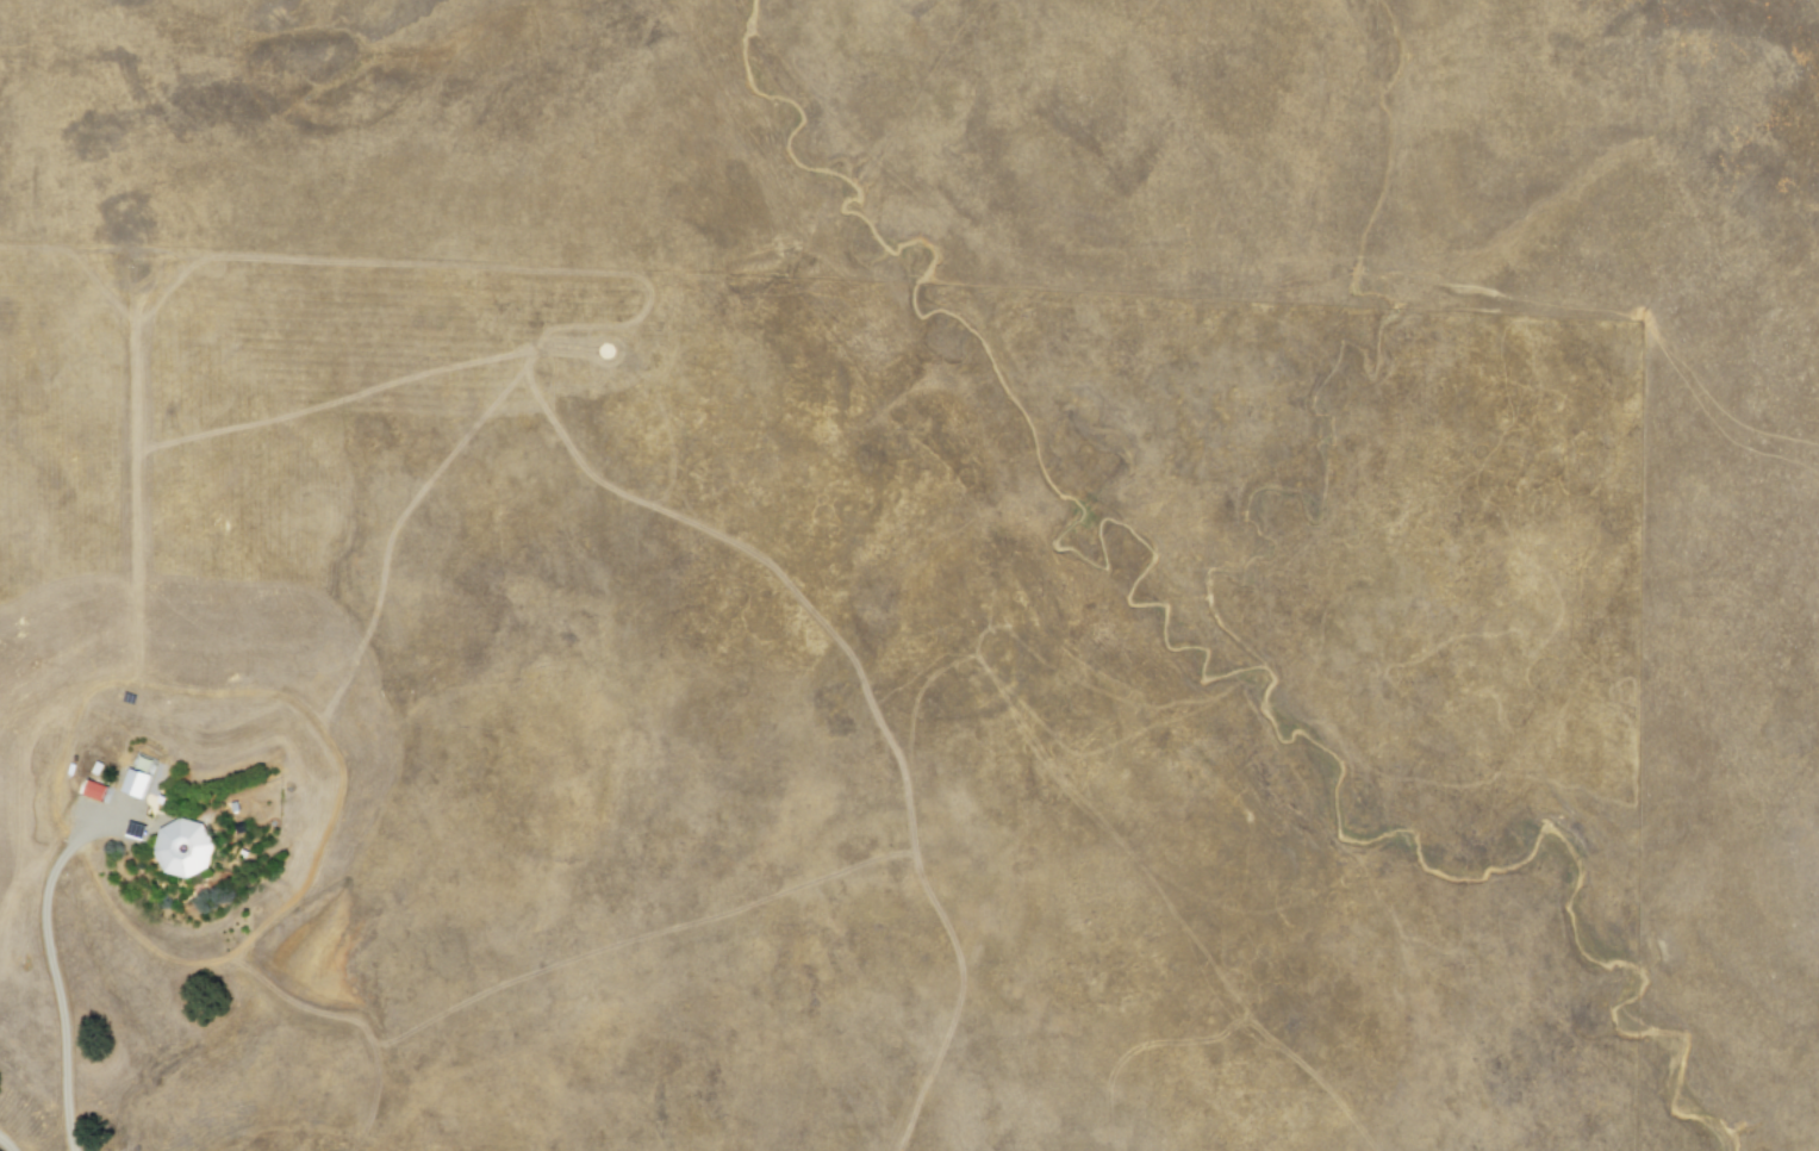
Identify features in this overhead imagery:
building: (131, 782)
building: (92, 790)
road: (48, 964)
road: (4, 1146)

